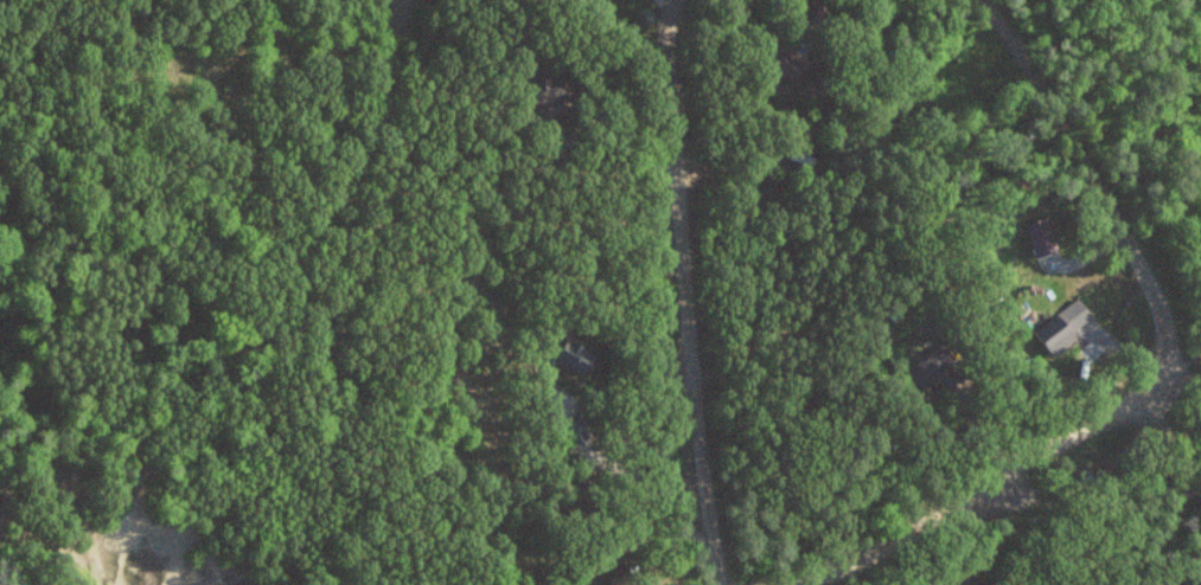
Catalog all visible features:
building: (817, 14)
building: (790, 65)
building: (549, 90)
road: (1086, 163)
road: (685, 292)
building: (1067, 326)
building: (579, 356)
building: (934, 366)
road: (1125, 470)
road: (1001, 476)
park: (1122, 484)
building: (613, 548)
building: (620, 574)

